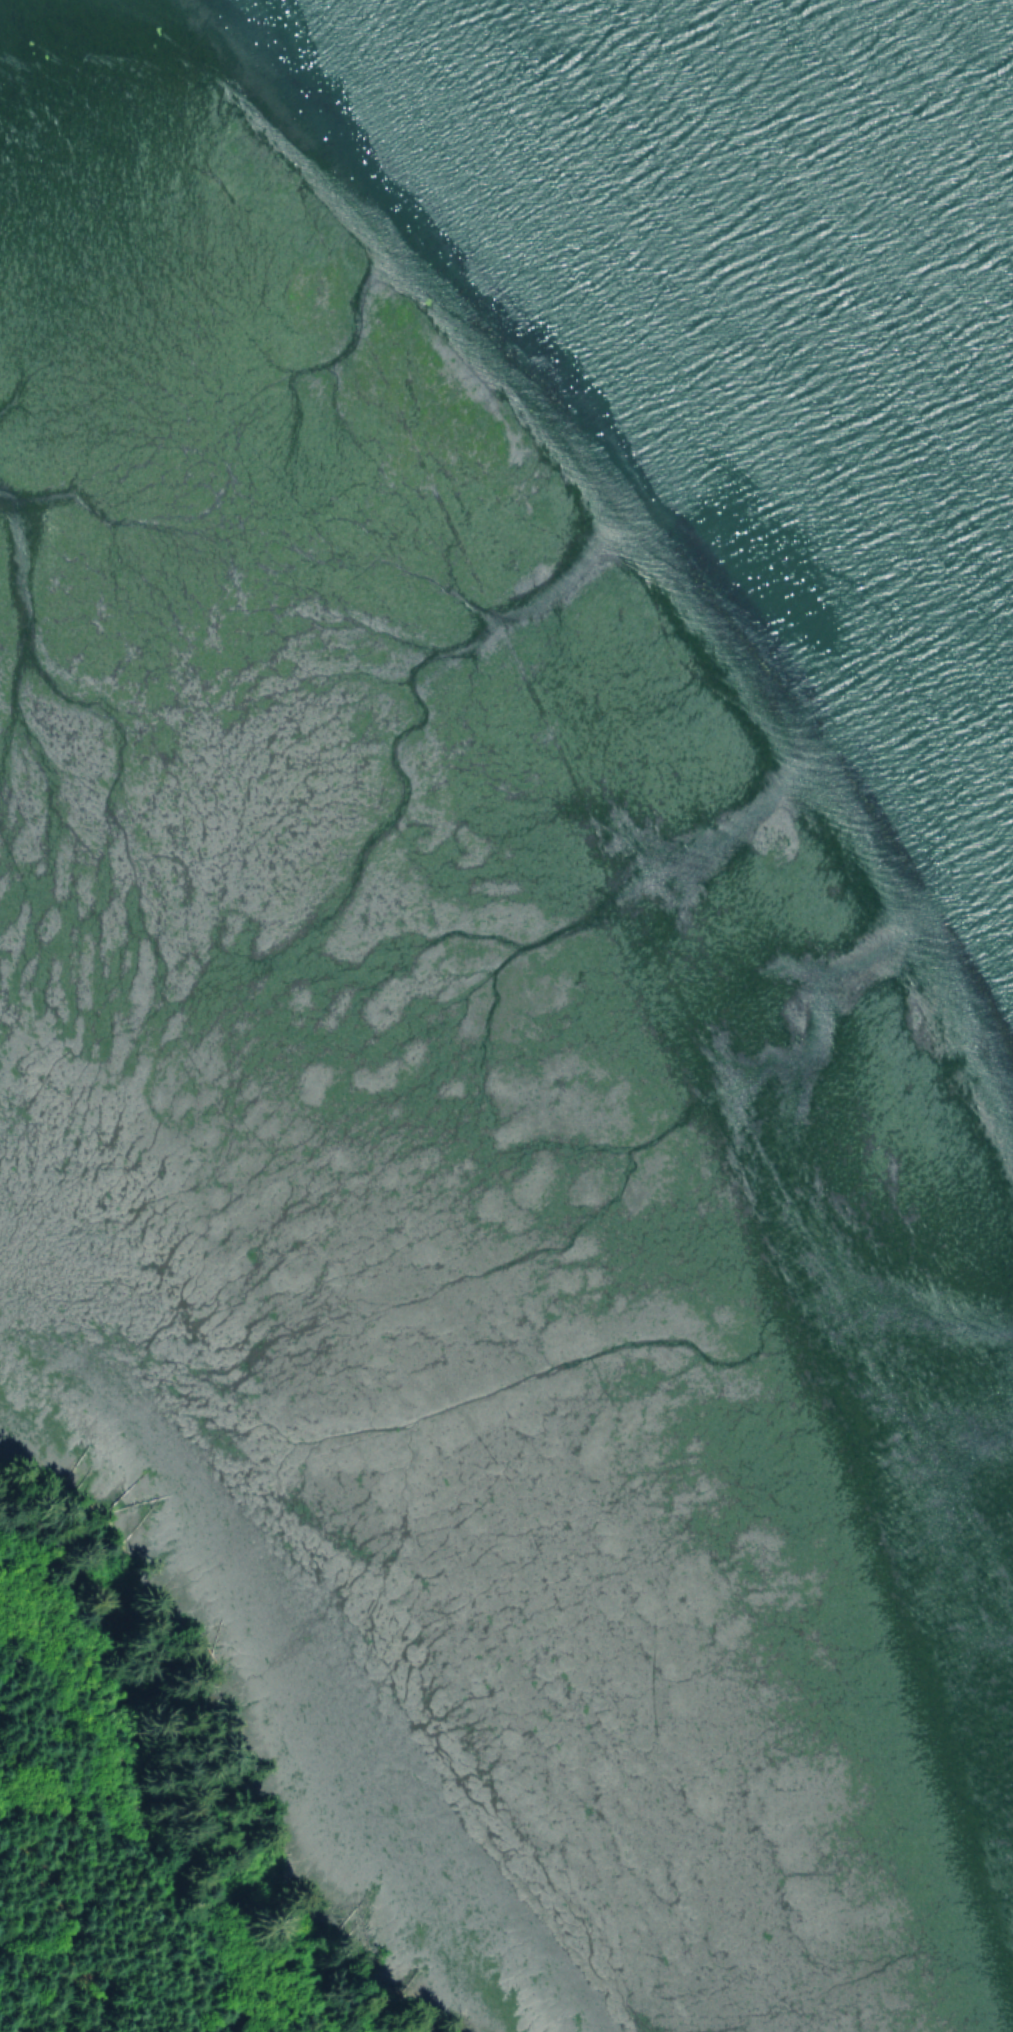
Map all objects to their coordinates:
river: (846, 230)

